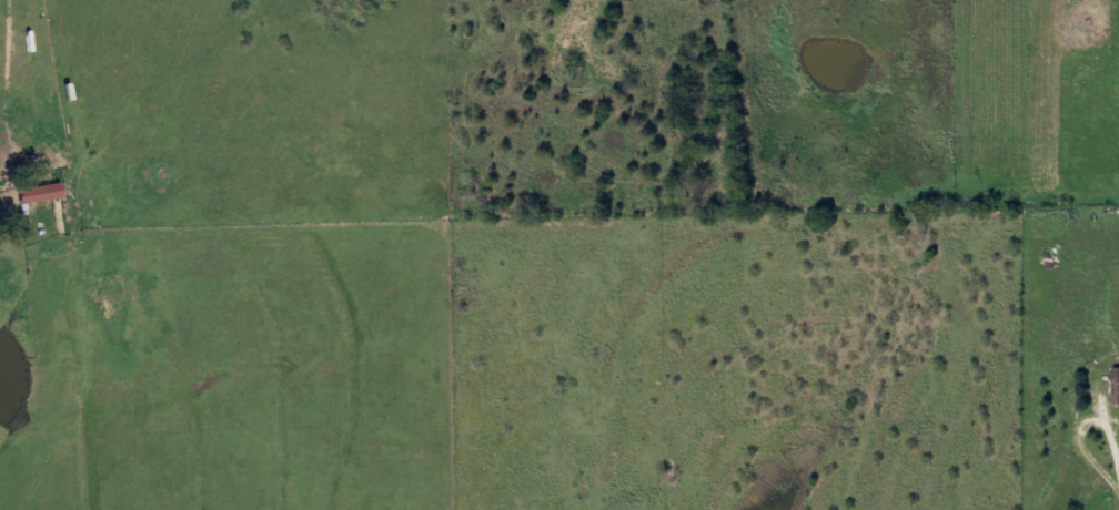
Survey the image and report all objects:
building: (43, 194)
building: (1118, 382)

